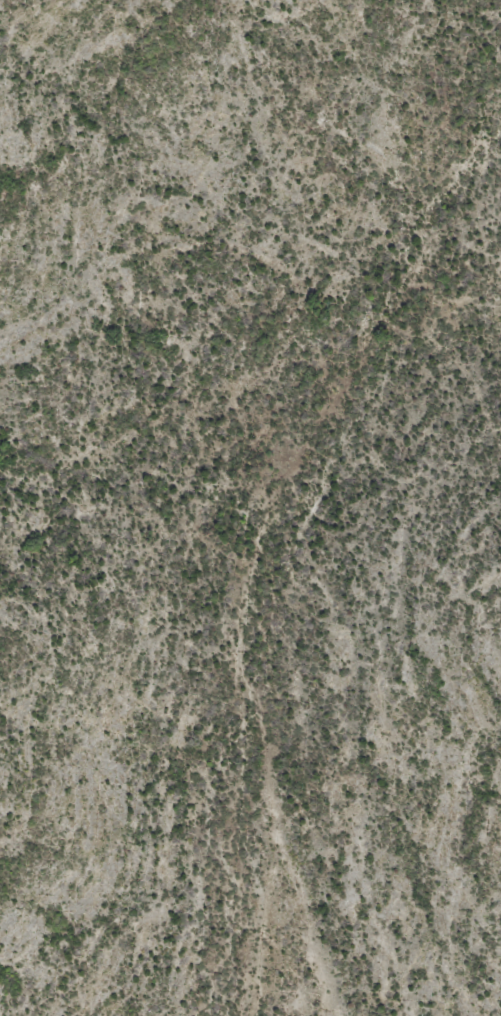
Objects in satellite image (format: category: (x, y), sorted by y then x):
road: (235, 598)

